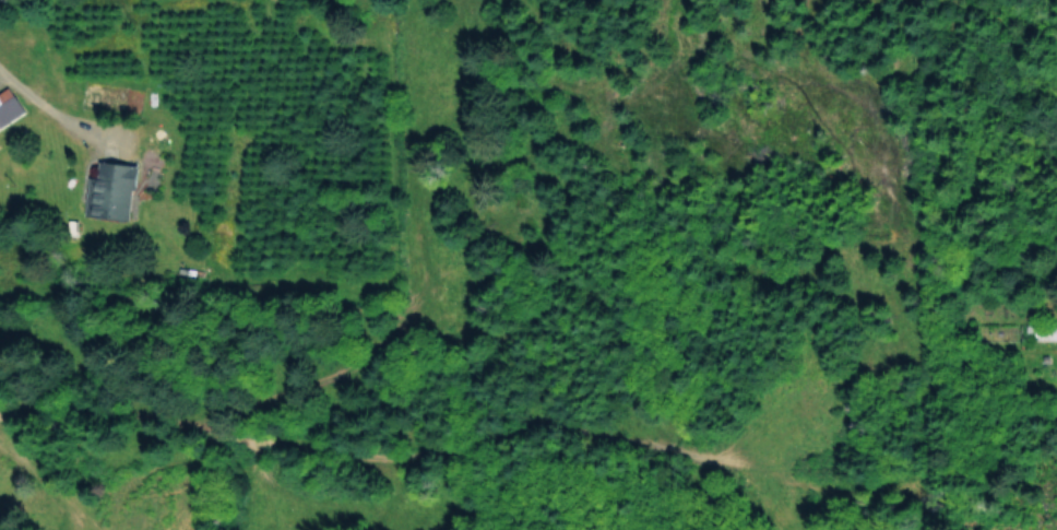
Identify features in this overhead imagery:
building: (8, 106)
road: (66, 115)
building: (109, 190)
road: (4, 413)
road: (569, 420)

